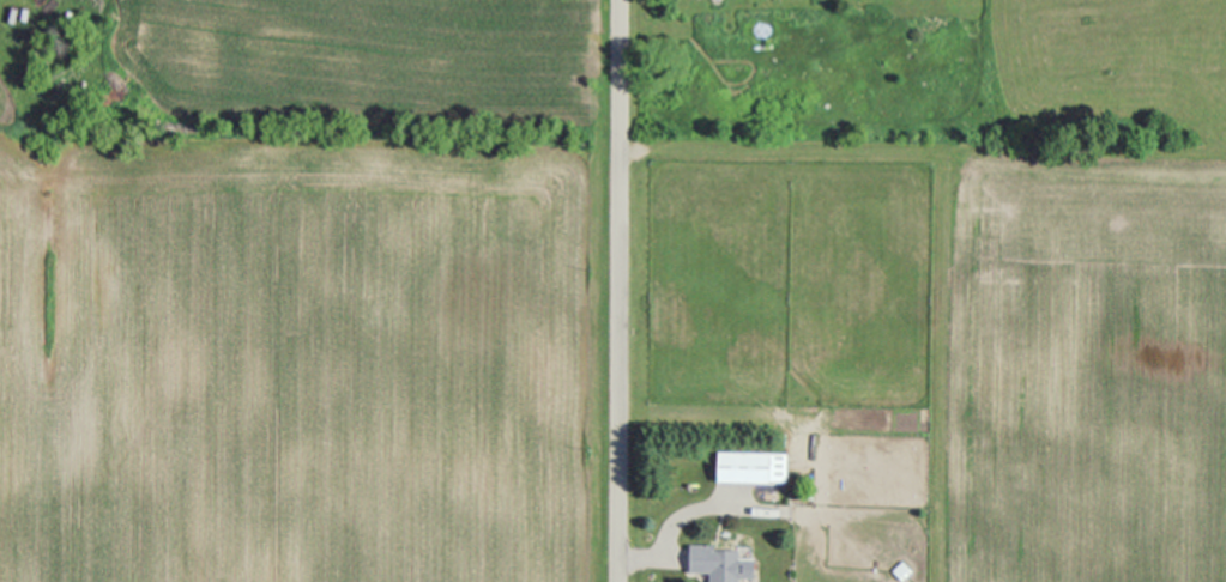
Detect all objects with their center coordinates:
road: (618, 291)
building: (749, 466)
building: (713, 560)

